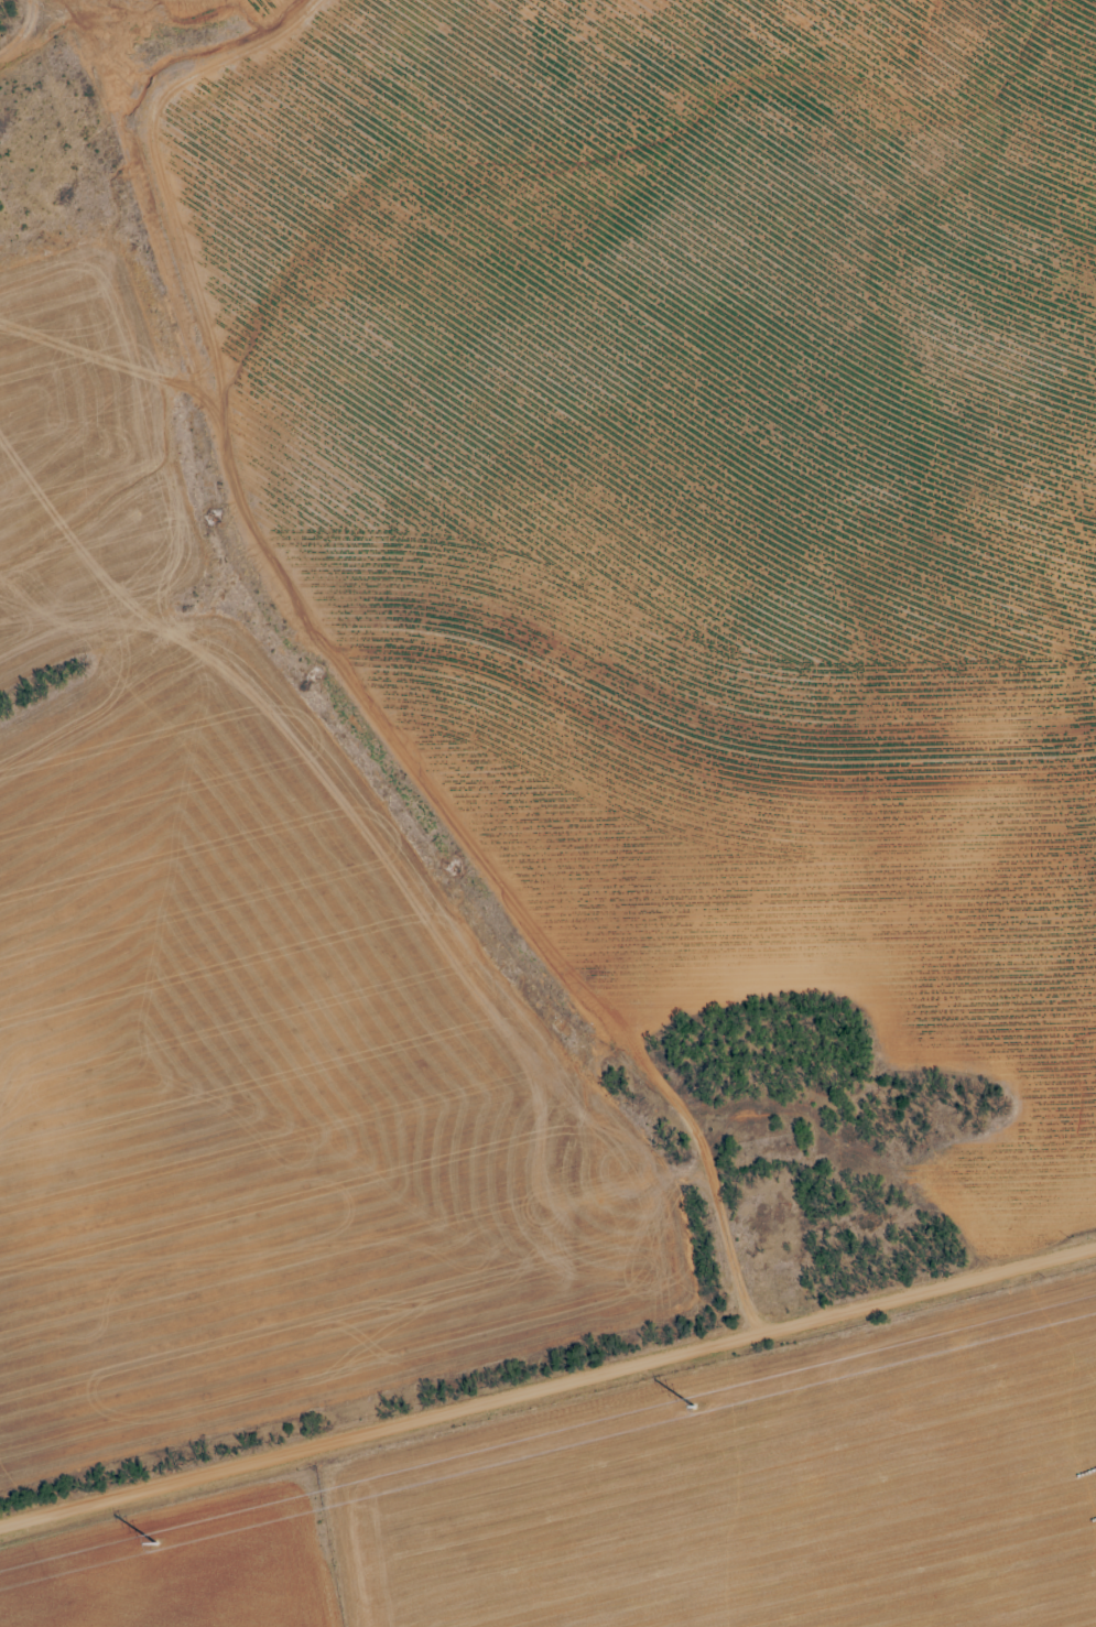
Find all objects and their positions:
road: (549, 1401)
power tower: (697, 1406)
power tower: (158, 1543)

